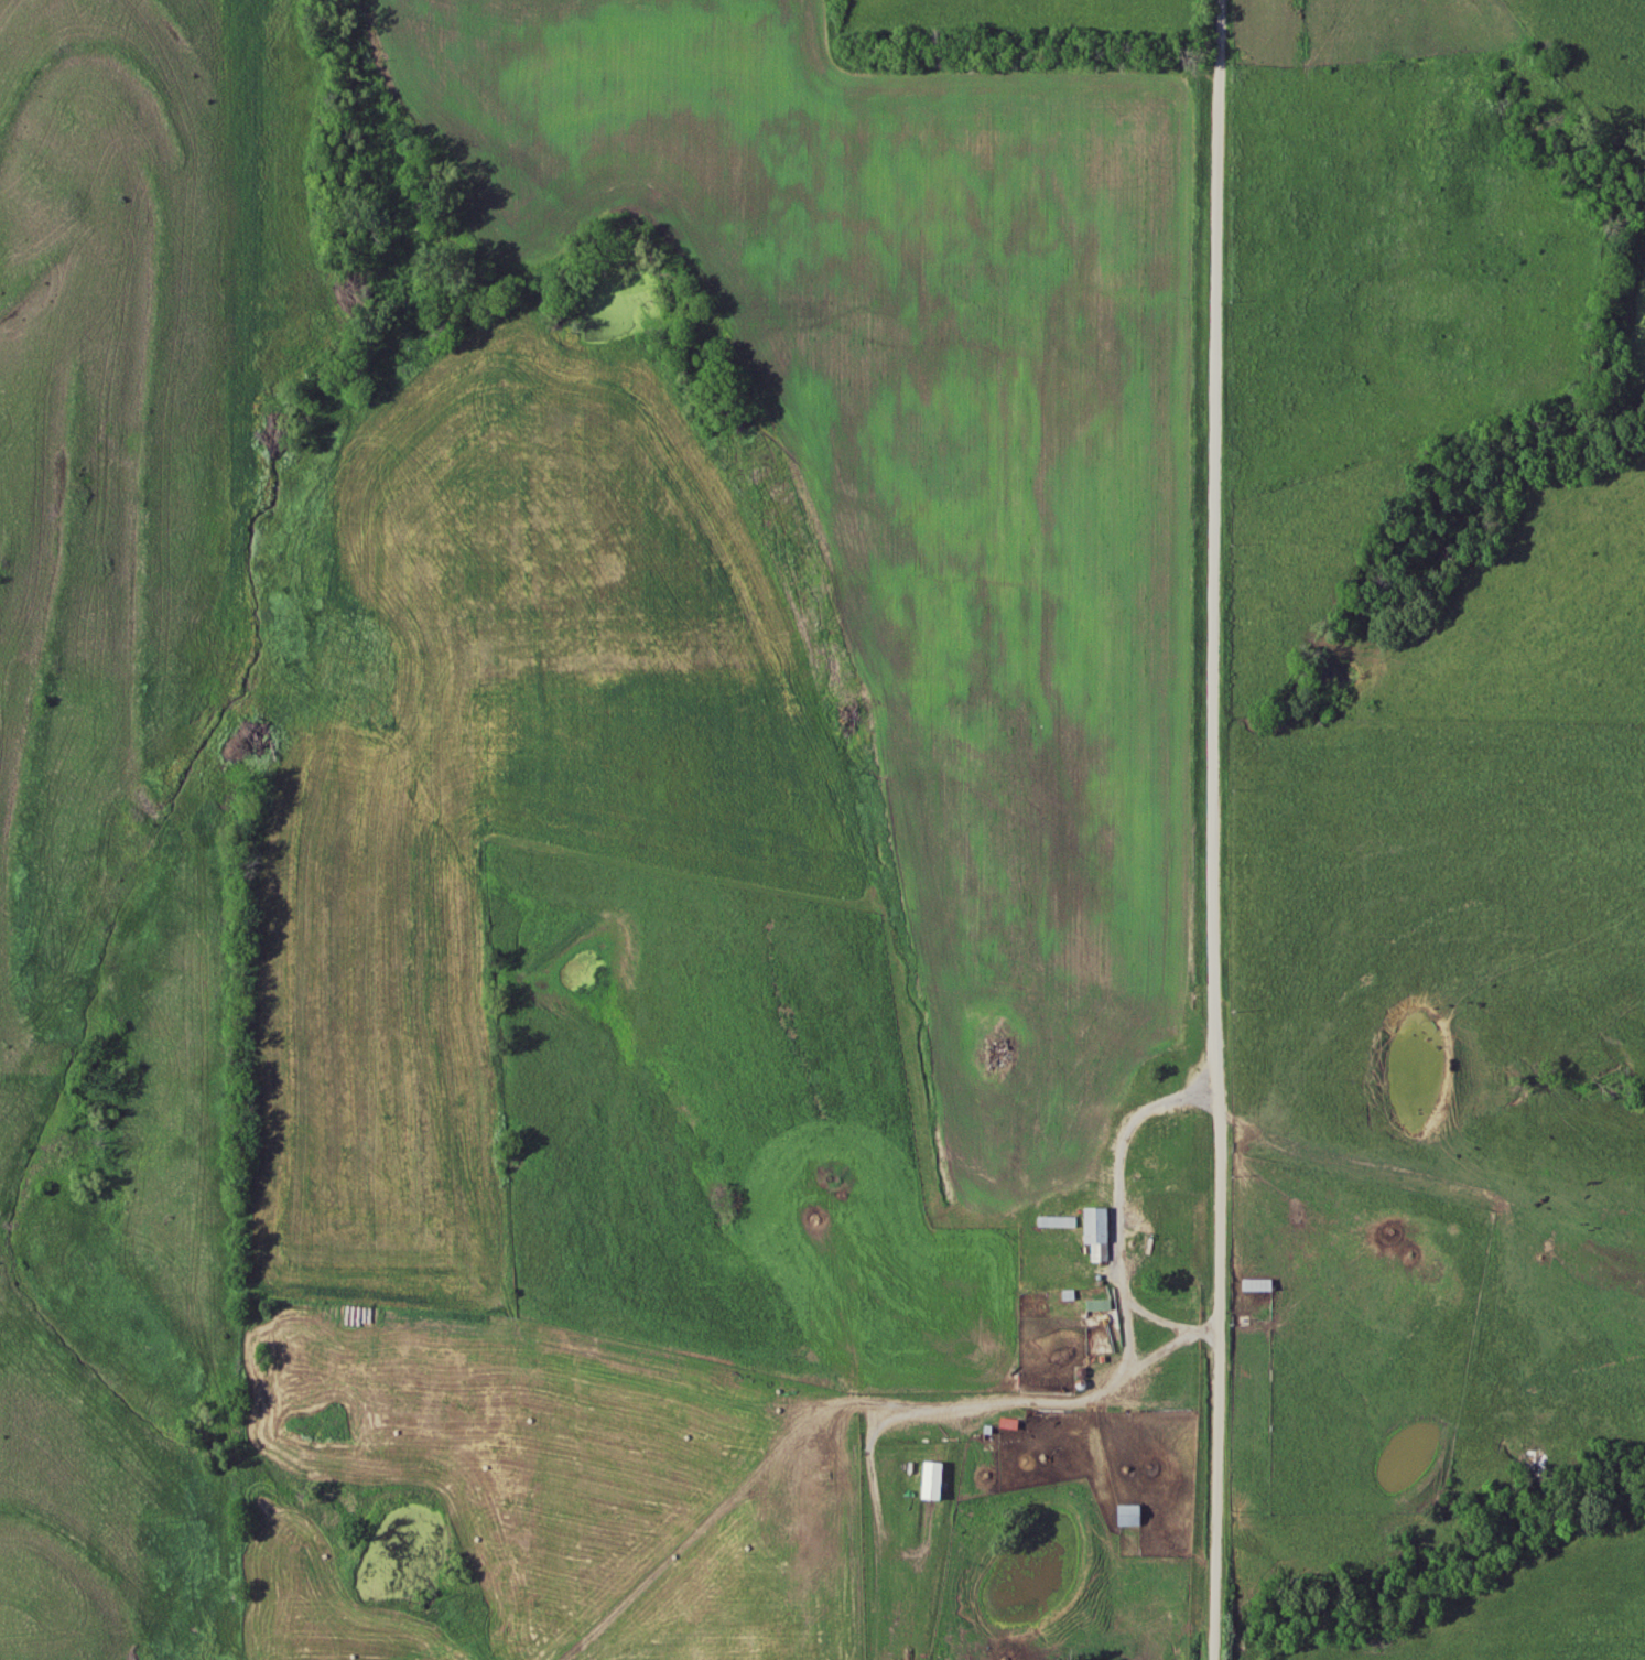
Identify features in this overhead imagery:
road: (1222, 830)
building: (1161, 1128)
building: (1056, 1220)
building: (1095, 1230)
building: (1256, 1284)
building: (1101, 1300)
building: (1094, 1338)
building: (928, 1479)
building: (1127, 1513)

